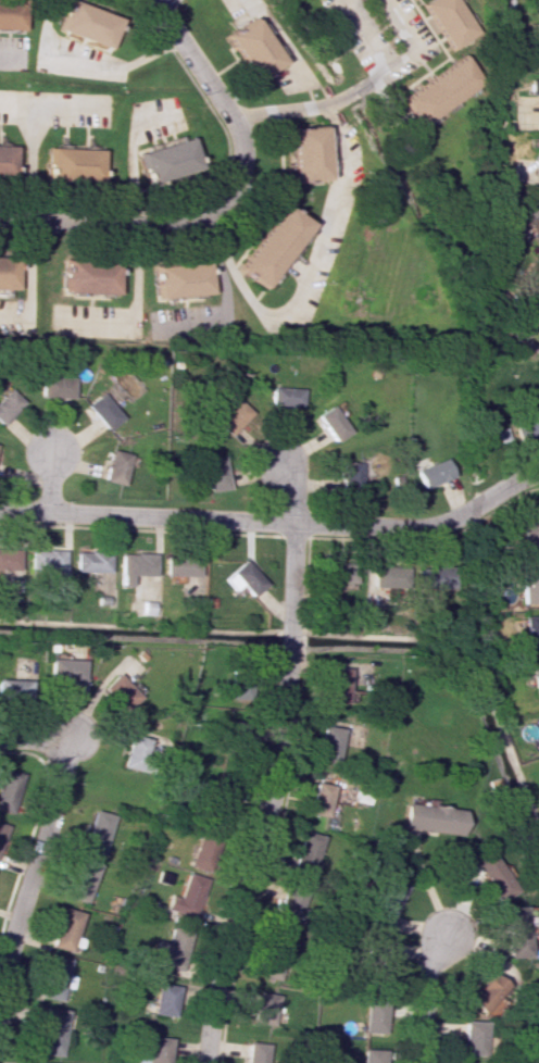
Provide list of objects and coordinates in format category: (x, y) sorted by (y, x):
road: (162, 3)
building: (12, 14)
building: (448, 22)
building: (89, 24)
road: (366, 34)
building: (538, 38)
road: (411, 39)
road: (277, 40)
building: (252, 49)
road: (12, 54)
road: (193, 58)
road: (89, 60)
road: (387, 68)
building: (534, 87)
building: (437, 91)
road: (17, 103)
road: (314, 108)
road: (35, 125)
road: (135, 149)
building: (305, 154)
building: (537, 157)
building: (168, 159)
building: (7, 160)
building: (74, 165)
building: (532, 213)
road: (160, 222)
building: (511, 228)
building: (272, 247)
building: (8, 272)
building: (89, 276)
road: (26, 279)
building: (180, 279)
road: (243, 293)
building: (530, 305)
road: (134, 310)
building: (57, 386)
building: (286, 397)
building: (8, 404)
building: (103, 411)
building: (233, 416)
building: (333, 423)
building: (526, 427)
building: (114, 467)
building: (213, 473)
building: (430, 473)
building: (349, 476)
road: (50, 479)
road: (293, 488)
road: (147, 512)
road: (422, 525)
building: (528, 534)
building: (45, 560)
building: (9, 562)
building: (89, 562)
building: (179, 565)
building: (133, 566)
building: (433, 577)
building: (242, 578)
building: (336, 579)
building: (529, 586)
building: (530, 633)
building: (63, 670)
building: (535, 680)
building: (335, 685)
building: (13, 689)
building: (118, 691)
building: (231, 692)
road: (39, 738)
building: (329, 743)
building: (139, 750)
building: (7, 790)
road: (272, 796)
building: (319, 799)
building: (431, 818)
building: (1, 830)
building: (97, 831)
building: (306, 852)
building: (201, 853)
road: (37, 864)
building: (491, 875)
building: (80, 880)
building: (188, 897)
building: (292, 902)
building: (385, 902)
building: (65, 929)
building: (513, 931)
building: (275, 955)
building: (377, 961)
building: (53, 977)
building: (487, 993)
road: (425, 996)
building: (163, 1000)
building: (263, 1008)
building: (375, 1017)
building: (50, 1030)
building: (473, 1038)
building: (156, 1049)
building: (256, 1052)
building: (373, 1055)
building: (38, 1062)

